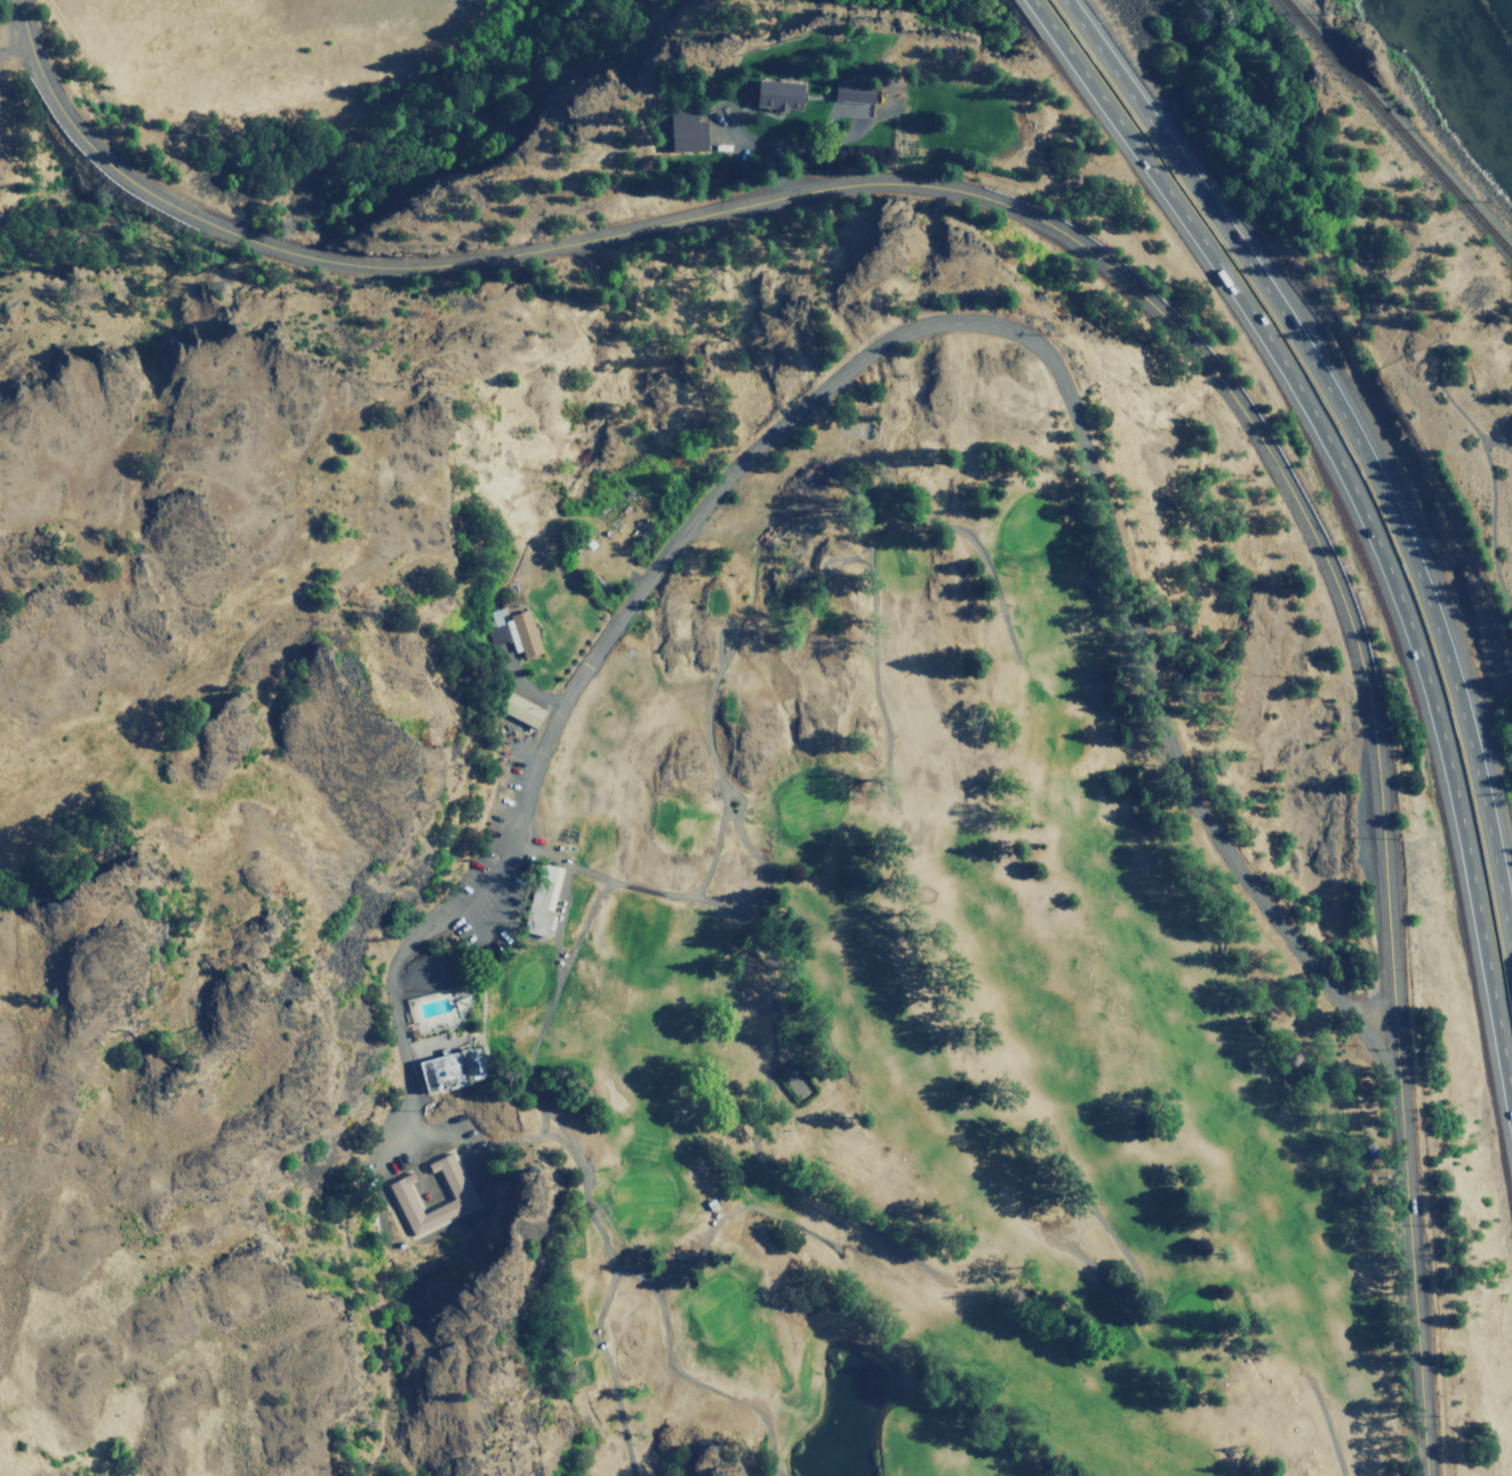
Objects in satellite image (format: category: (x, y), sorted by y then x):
road: (17, 1)
building: (853, 91)
building: (778, 94)
railway: (1401, 126)
building: (685, 131)
road: (1128, 281)
road: (1049, 361)
road: (1496, 443)
road: (1360, 451)
road: (1490, 474)
road: (1358, 519)
building: (514, 633)
building: (521, 710)
building: (541, 902)
park: (883, 971)
road: (1369, 1004)
building: (450, 1069)
building: (457, 1191)

